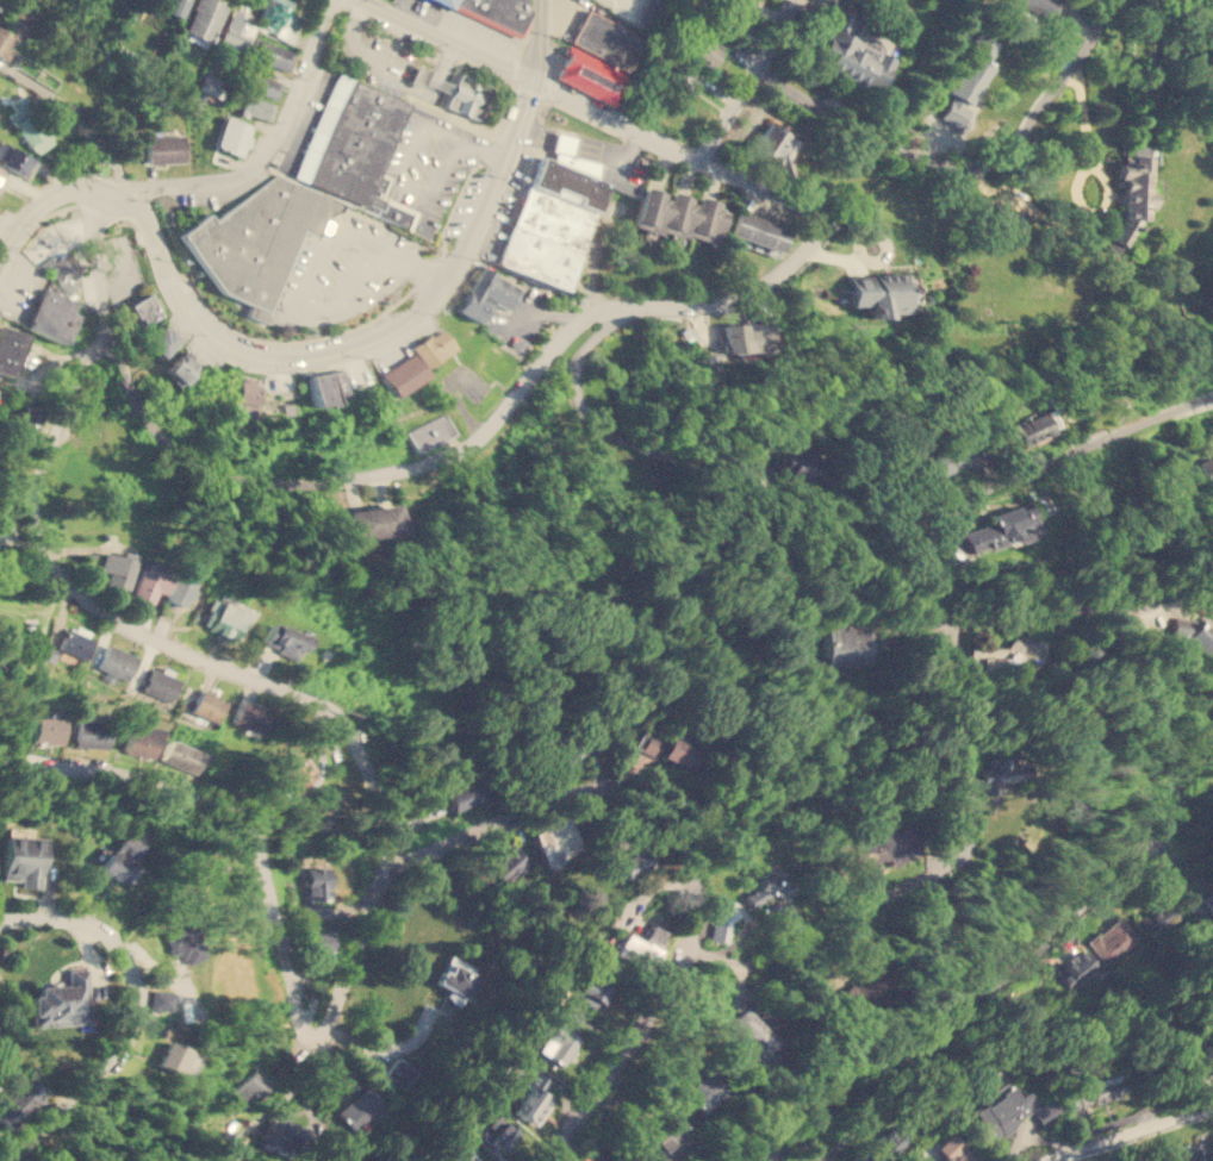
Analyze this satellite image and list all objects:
building: (442, 2)
building: (1040, 6)
building: (496, 12)
building: (648, 12)
building: (276, 18)
building: (203, 21)
building: (15, 23)
building: (235, 32)
building: (609, 38)
road: (449, 39)
road: (536, 40)
building: (702, 50)
building: (856, 52)
road: (394, 62)
building: (592, 77)
building: (966, 77)
road: (747, 80)
building: (680, 81)
building: (461, 98)
road: (1078, 105)
building: (256, 107)
road: (1025, 126)
building: (30, 130)
building: (234, 136)
building: (349, 139)
road: (267, 143)
road: (671, 145)
road: (586, 146)
building: (163, 148)
building: (773, 148)
road: (484, 152)
road: (921, 154)
building: (571, 156)
building: (15, 158)
building: (1, 175)
road: (393, 185)
road: (1107, 188)
building: (1133, 188)
road: (46, 200)
building: (680, 216)
building: (1007, 218)
building: (548, 223)
building: (757, 231)
building: (259, 241)
road: (413, 260)
building: (881, 292)
road: (304, 293)
building: (483, 293)
building: (143, 310)
building: (50, 314)
building: (745, 337)
building: (162, 338)
road: (360, 347)
building: (7, 348)
building: (433, 348)
building: (180, 367)
building: (403, 374)
building: (319, 387)
building: (244, 394)
building: (29, 417)
building: (1037, 424)
road: (609, 430)
building: (429, 431)
building: (1007, 435)
road: (1076, 450)
building: (943, 458)
road: (412, 469)
building: (1206, 470)
building: (369, 520)
building: (999, 529)
building: (118, 567)
building: (150, 579)
building: (179, 589)
building: (10, 592)
road: (1052, 605)
building: (228, 616)
building: (1193, 631)
building: (284, 639)
building: (76, 642)
building: (844, 643)
building: (117, 662)
road: (235, 673)
building: (161, 682)
building: (210, 704)
building: (249, 714)
building: (48, 729)
building: (91, 734)
building: (141, 739)
building: (647, 743)
building: (678, 751)
building: (565, 754)
building: (181, 756)
building: (294, 769)
building: (996, 769)
road: (596, 785)
building: (462, 794)
road: (238, 812)
building: (556, 841)
building: (884, 847)
building: (119, 857)
building: (23, 859)
building: (509, 861)
building: (633, 863)
building: (315, 881)
building: (767, 886)
building: (1208, 901)
building: (311, 907)
building: (1158, 917)
road: (839, 919)
building: (721, 925)
building: (653, 934)
building: (1111, 940)
building: (318, 943)
building: (186, 944)
building: (635, 950)
building: (1076, 968)
road: (983, 974)
building: (456, 978)
building: (861, 987)
building: (592, 988)
building: (160, 999)
building: (62, 1000)
road: (137, 1009)
building: (578, 1012)
building: (752, 1035)
building: (555, 1044)
building: (1207, 1051)
road: (617, 1054)
building: (176, 1059)
building: (398, 1072)
building: (248, 1085)
building: (1094, 1091)
building: (699, 1092)
building: (18, 1100)
building: (531, 1100)
building: (357, 1107)
building: (1013, 1111)
building: (667, 1128)
building: (285, 1131)
road: (1131, 1131)
building: (496, 1136)
building: (1188, 1153)
building: (462, 1155)

